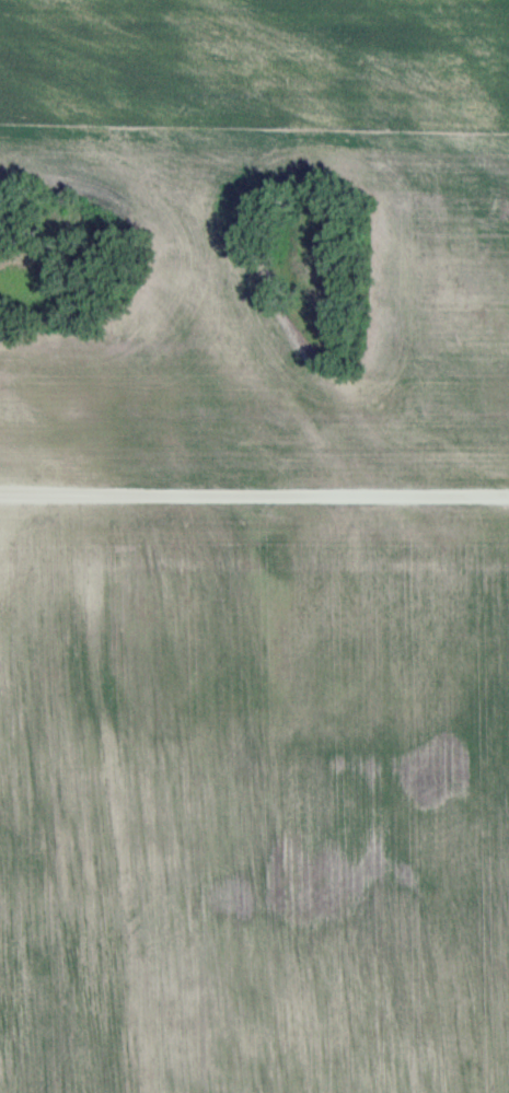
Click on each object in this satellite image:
crop: (433, 237)
road: (254, 496)
crop: (254, 802)

